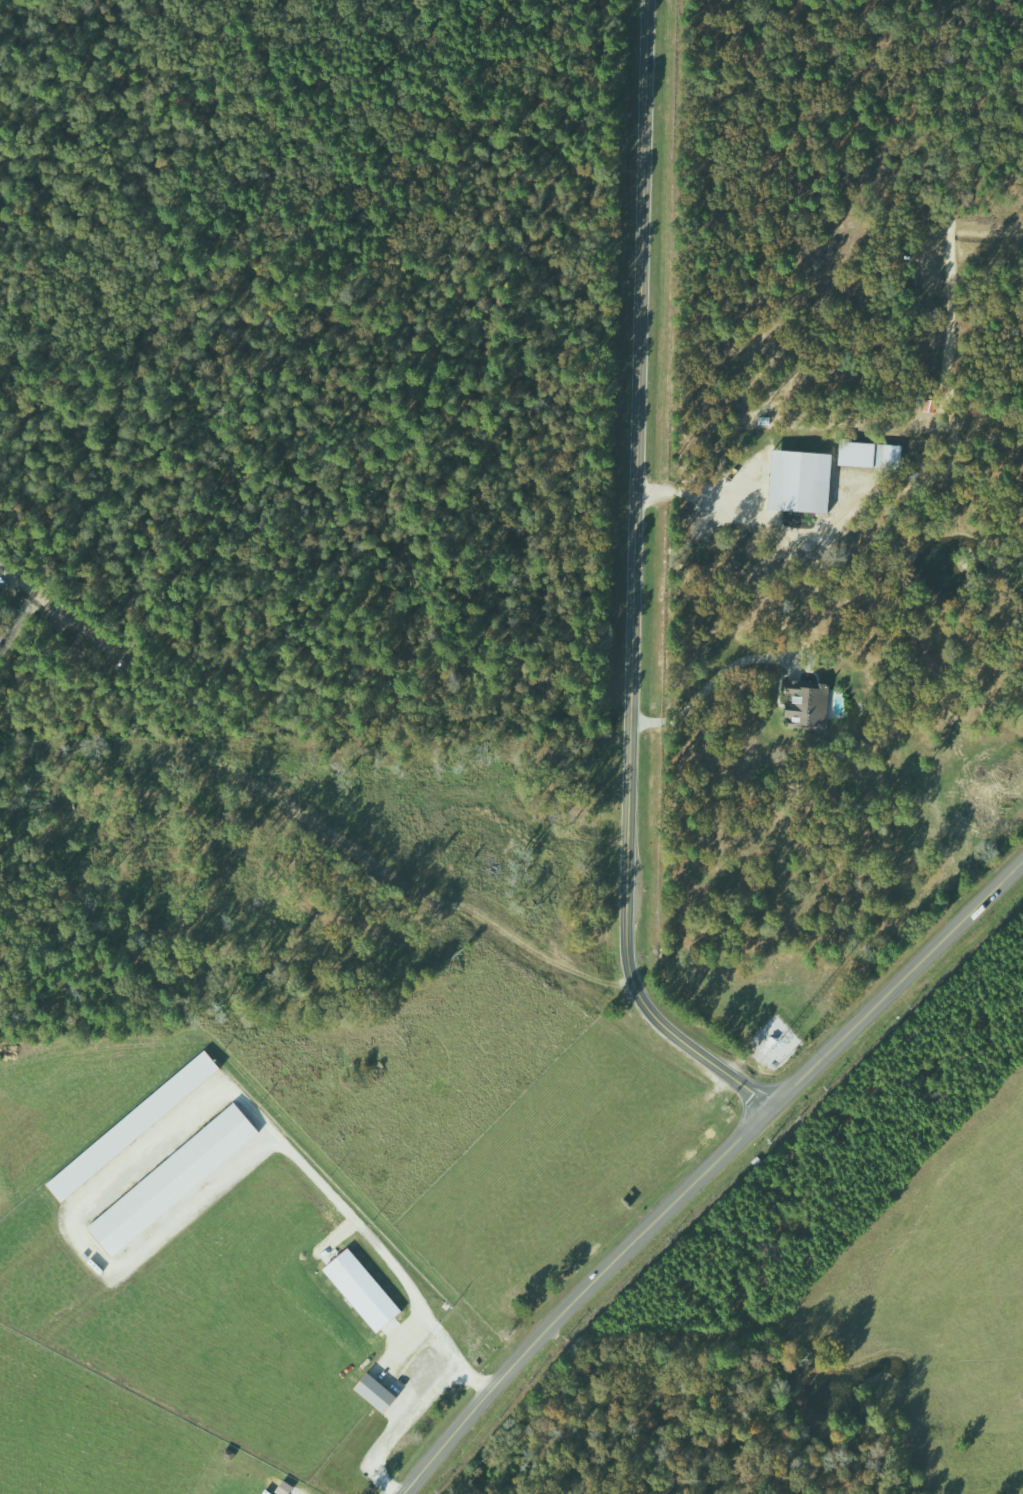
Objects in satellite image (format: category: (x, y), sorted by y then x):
park: (303, 380)
building: (872, 455)
building: (804, 481)
road: (696, 494)
road: (634, 584)
road: (60, 612)
road: (18, 627)
road: (708, 685)
building: (809, 703)
building: (140, 1122)
road: (706, 1168)
building: (175, 1179)
building: (364, 1289)
building: (378, 1392)
building: (268, 1492)

